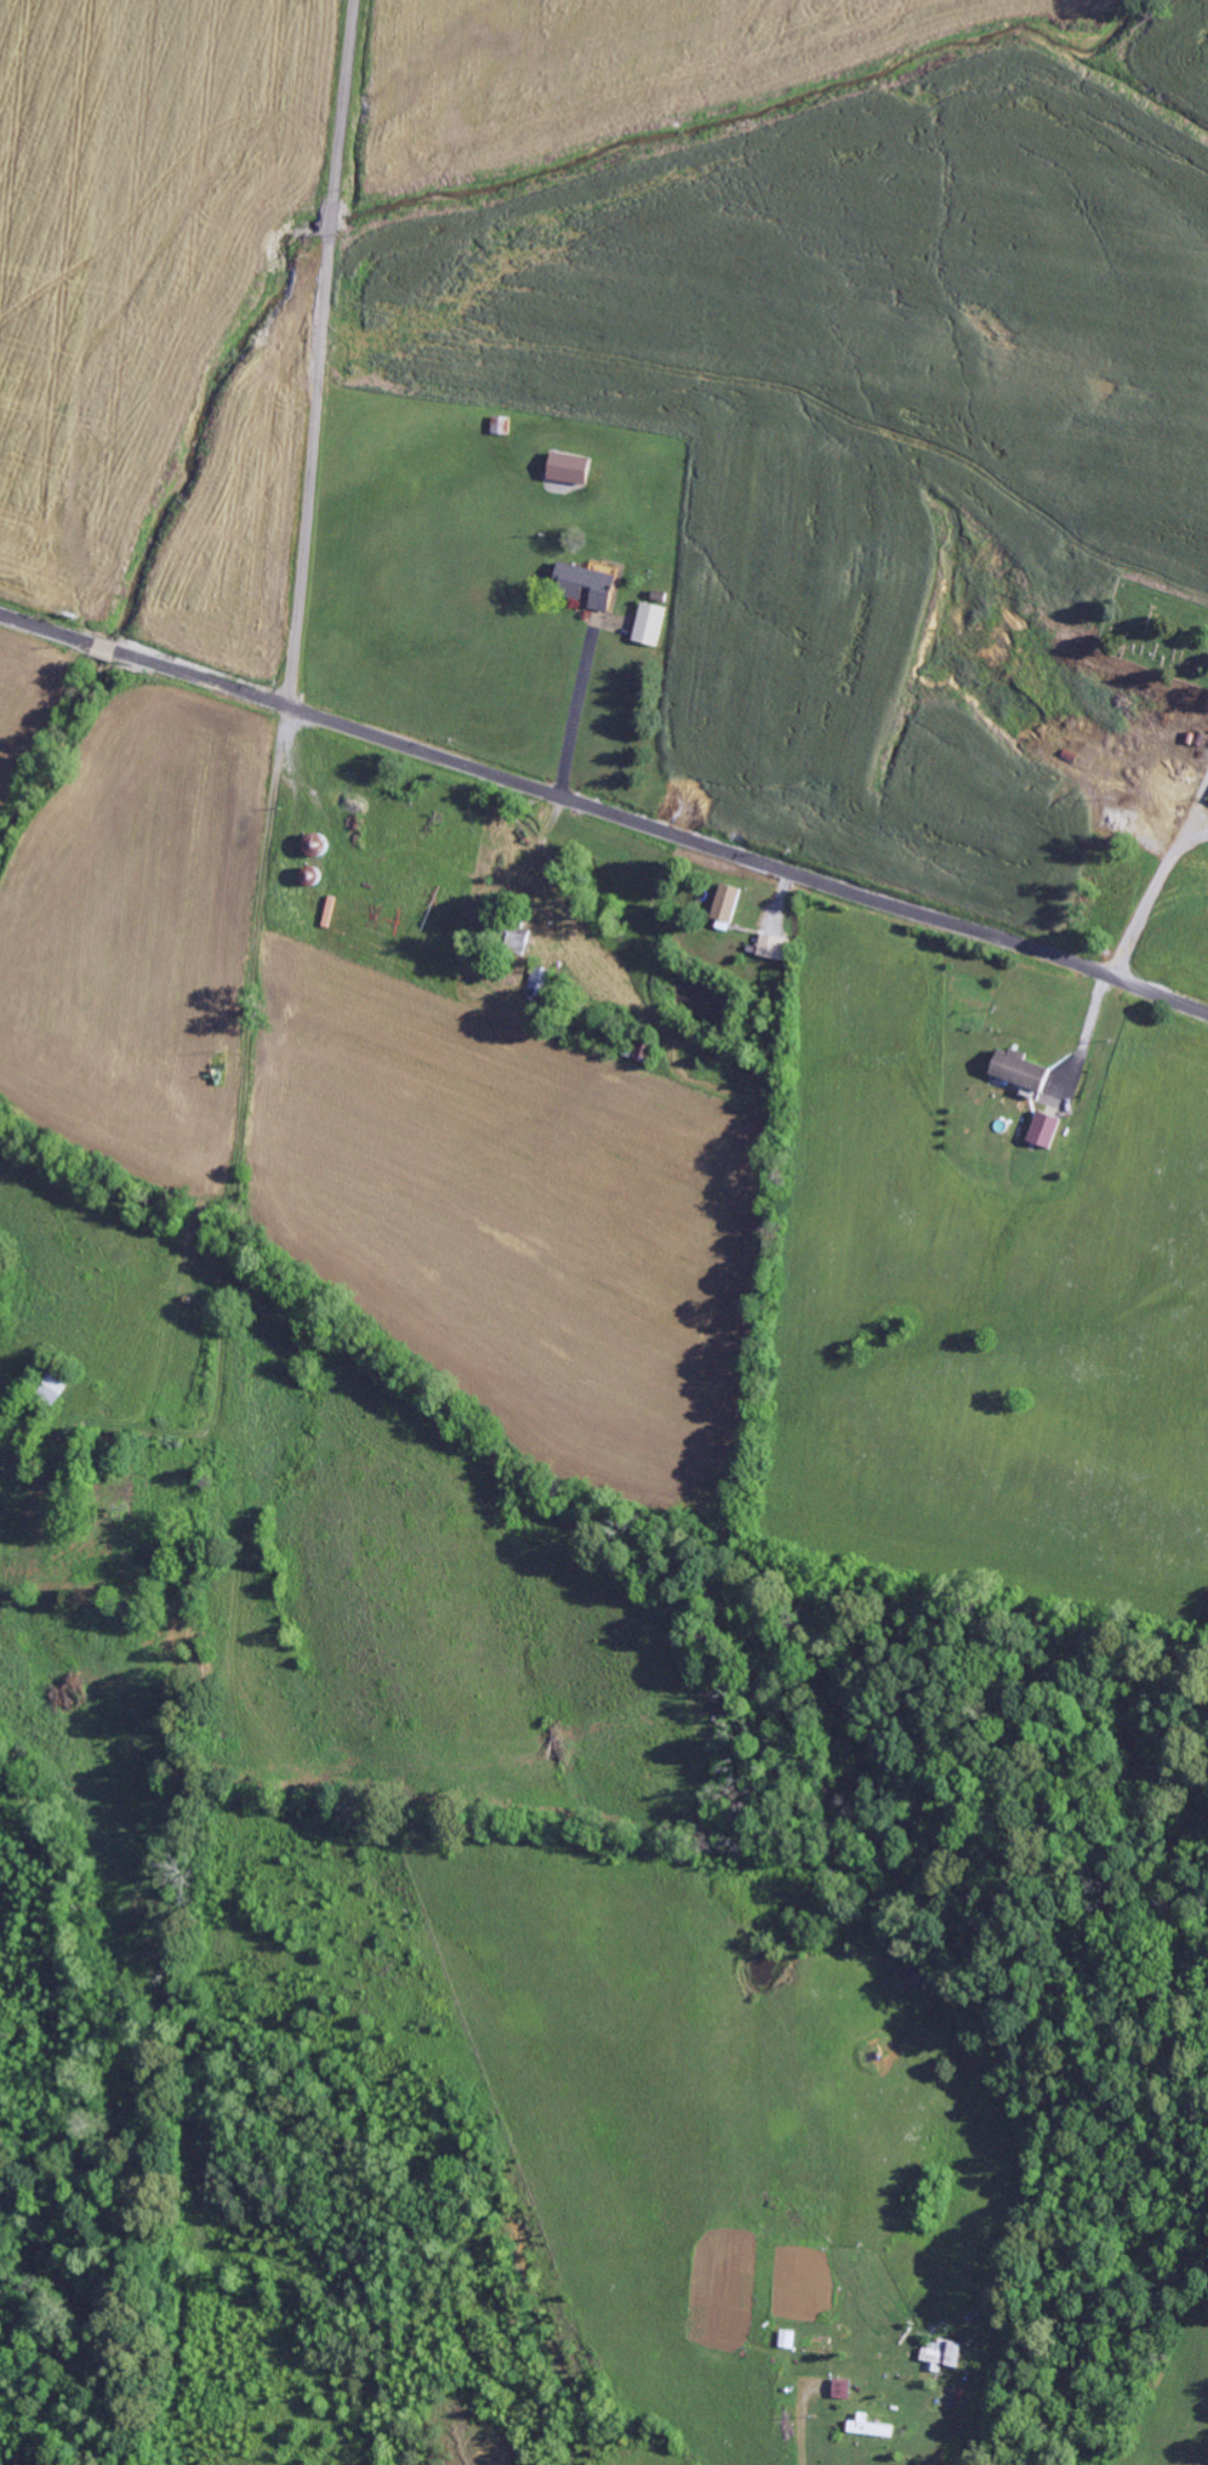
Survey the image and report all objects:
road: (324, 353)
building: (568, 468)
building: (585, 585)
building: (650, 624)
road: (604, 812)
building: (726, 904)
building: (774, 948)
building: (541, 981)
building: (640, 1049)
road: (273, 1056)
building: (1019, 1070)
building: (1044, 1130)
building: (788, 2339)
building: (844, 2390)
building: (871, 2427)

